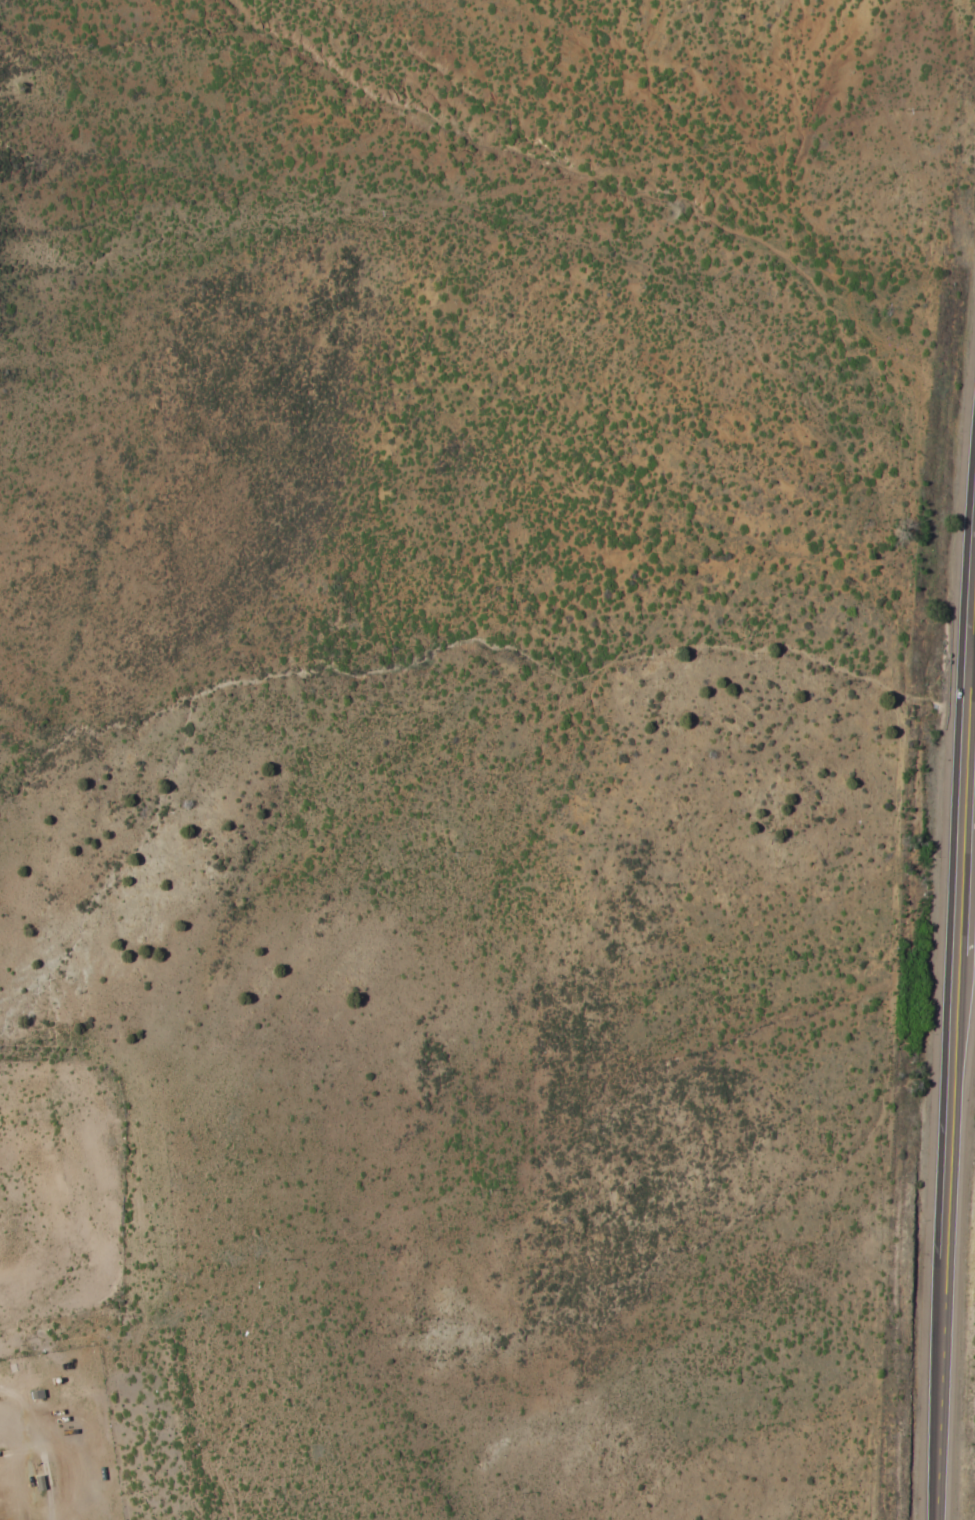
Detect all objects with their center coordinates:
road: (973, 660)
road: (954, 1060)

